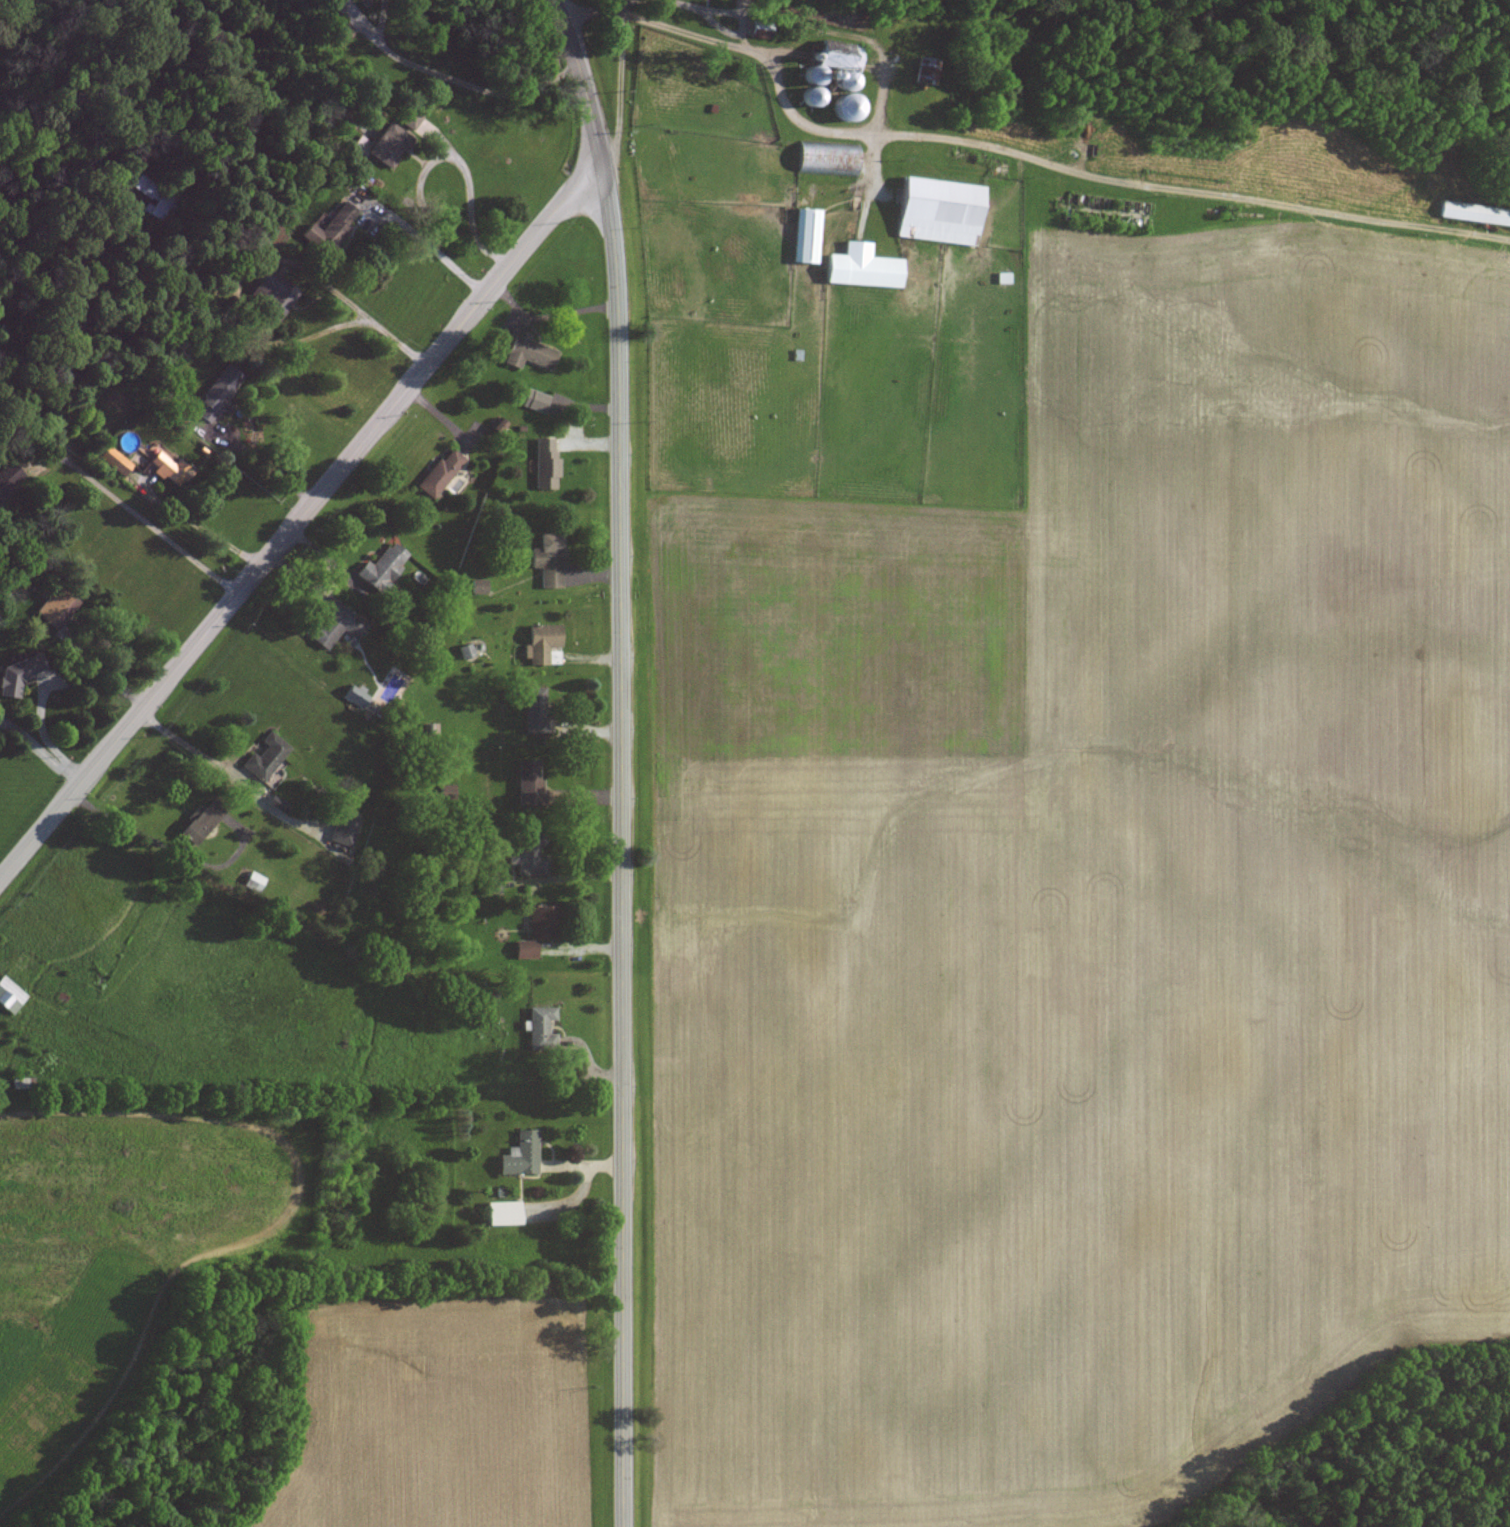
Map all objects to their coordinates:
road: (379, 18)
road: (357, 21)
building: (337, 27)
building: (758, 30)
building: (925, 71)
road: (619, 79)
building: (833, 82)
road: (472, 86)
building: (383, 146)
road: (475, 153)
building: (826, 159)
road: (1042, 162)
building: (154, 197)
building: (938, 211)
building: (1475, 213)
road: (428, 217)
building: (335, 226)
building: (806, 236)
building: (862, 267)
building: (273, 293)
road: (259, 295)
road: (379, 329)
building: (527, 352)
building: (218, 393)
building: (534, 400)
building: (113, 461)
building: (545, 463)
building: (439, 473)
building: (6, 480)
road: (175, 514)
road: (299, 515)
road: (141, 518)
building: (548, 559)
building: (382, 568)
building: (477, 587)
building: (55, 608)
building: (334, 626)
building: (540, 643)
building: (465, 651)
building: (17, 675)
building: (354, 696)
building: (533, 710)
road: (39, 749)
road: (203, 754)
building: (264, 757)
road: (618, 759)
building: (528, 784)
building: (276, 805)
building: (197, 824)
building: (342, 830)
road: (169, 849)
building: (526, 855)
road: (566, 877)
building: (535, 932)
building: (10, 996)
building: (539, 1027)
building: (519, 1154)
building: (500, 1213)

